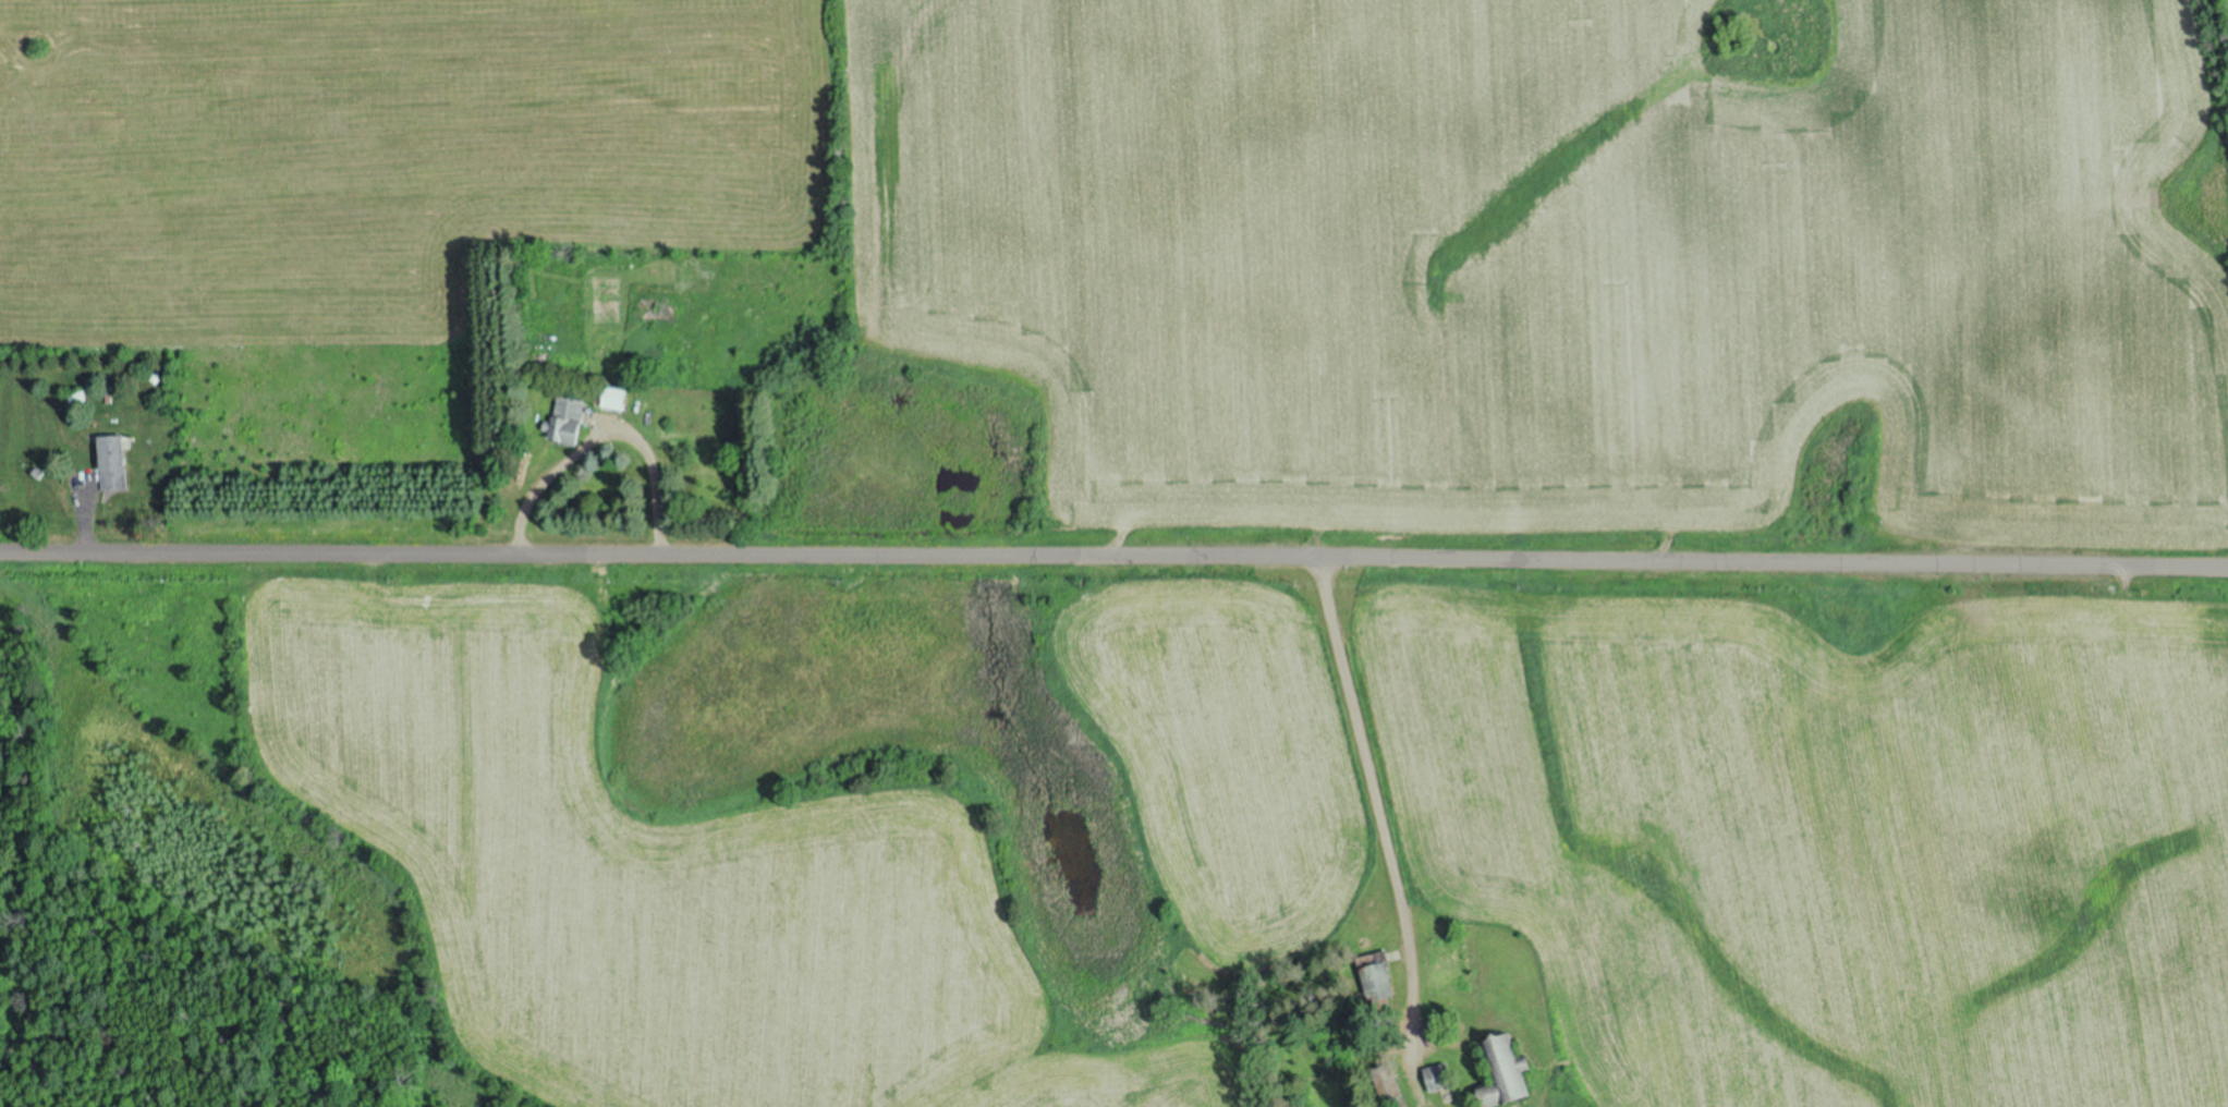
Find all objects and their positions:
building: (617, 398)
building: (571, 418)
building: (115, 462)
road: (1113, 553)
building: (1381, 984)
building: (1441, 1076)

